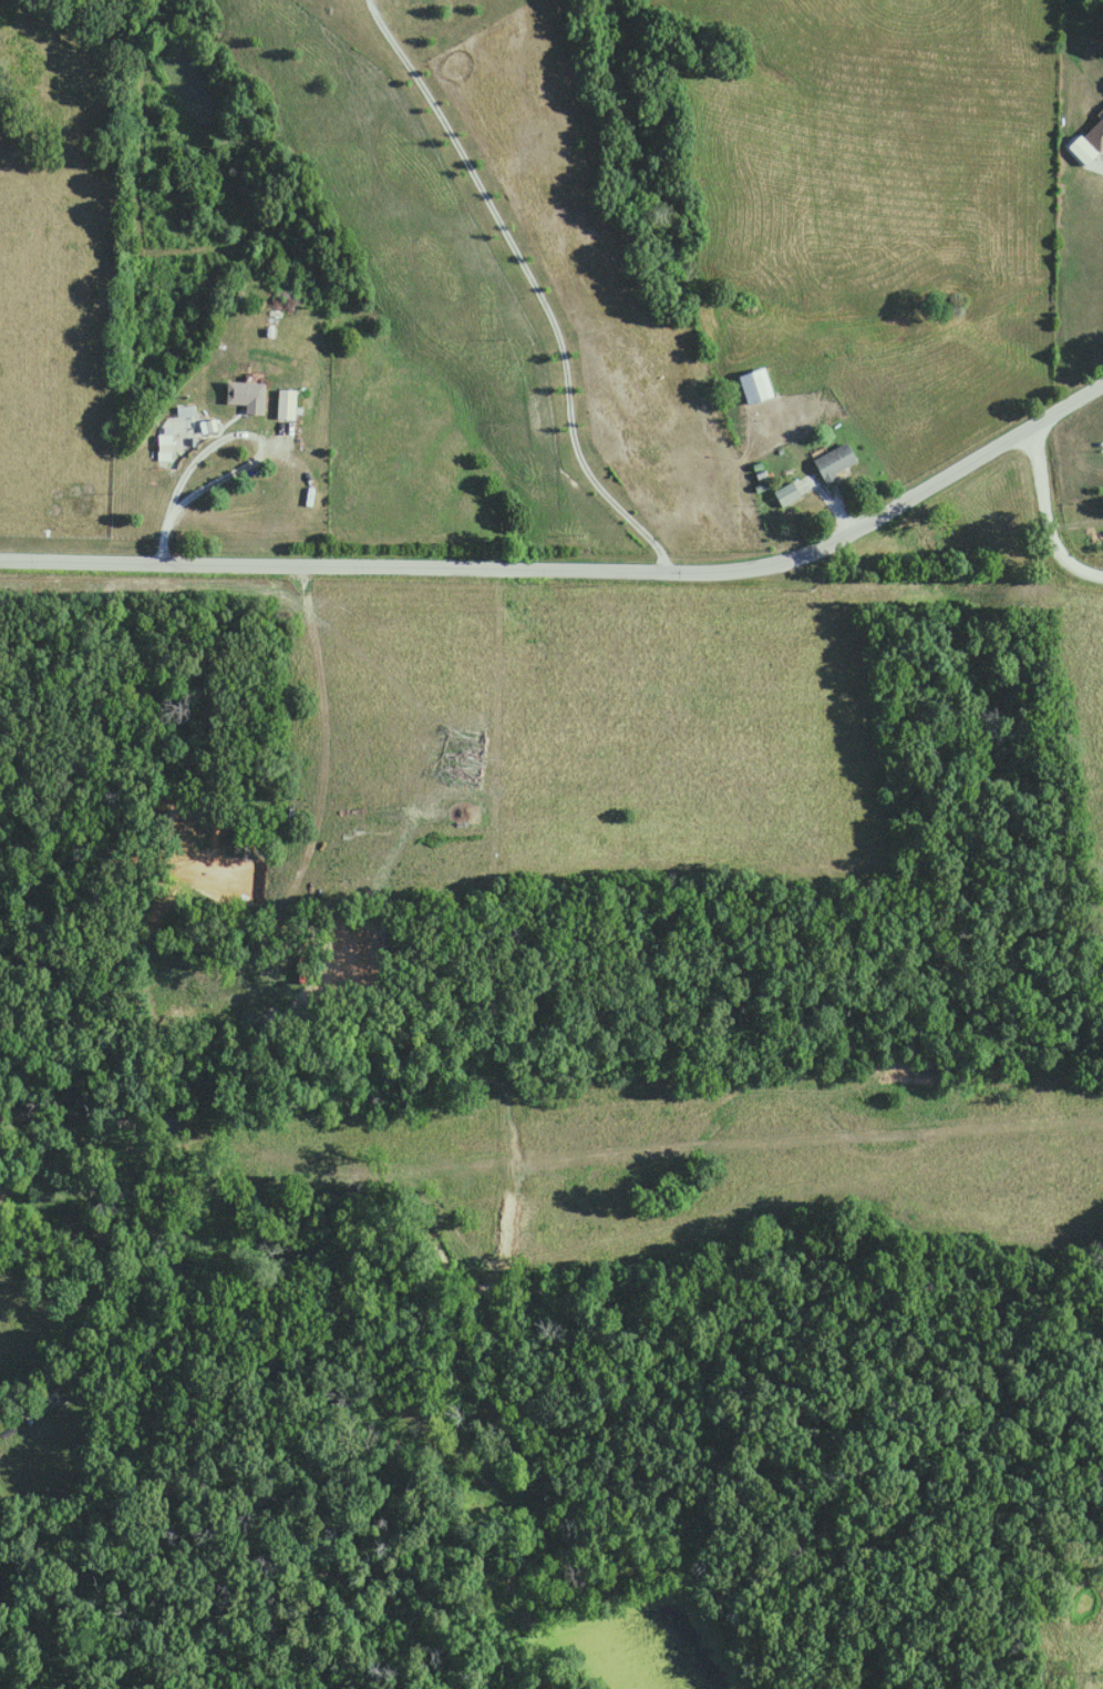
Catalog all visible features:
building: (1096, 136)
road: (528, 283)
building: (756, 386)
building: (246, 395)
building: (287, 405)
road: (1060, 409)
road: (220, 434)
building: (165, 448)
building: (835, 462)
road: (802, 471)
building: (787, 493)
road: (1035, 530)
road: (161, 533)
road: (525, 567)

